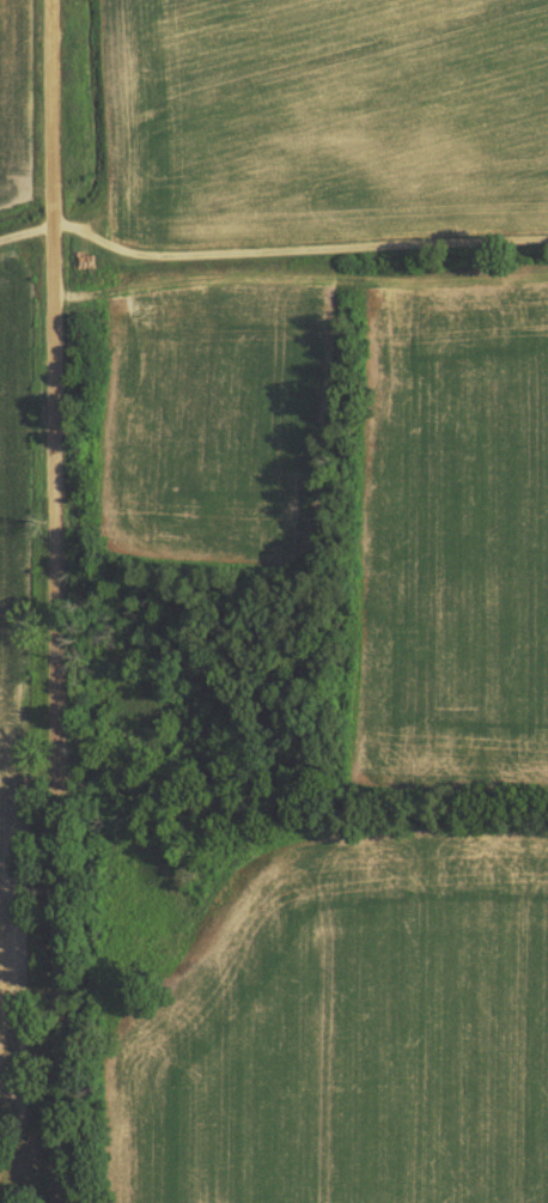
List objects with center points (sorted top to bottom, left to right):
road: (65, 601)

